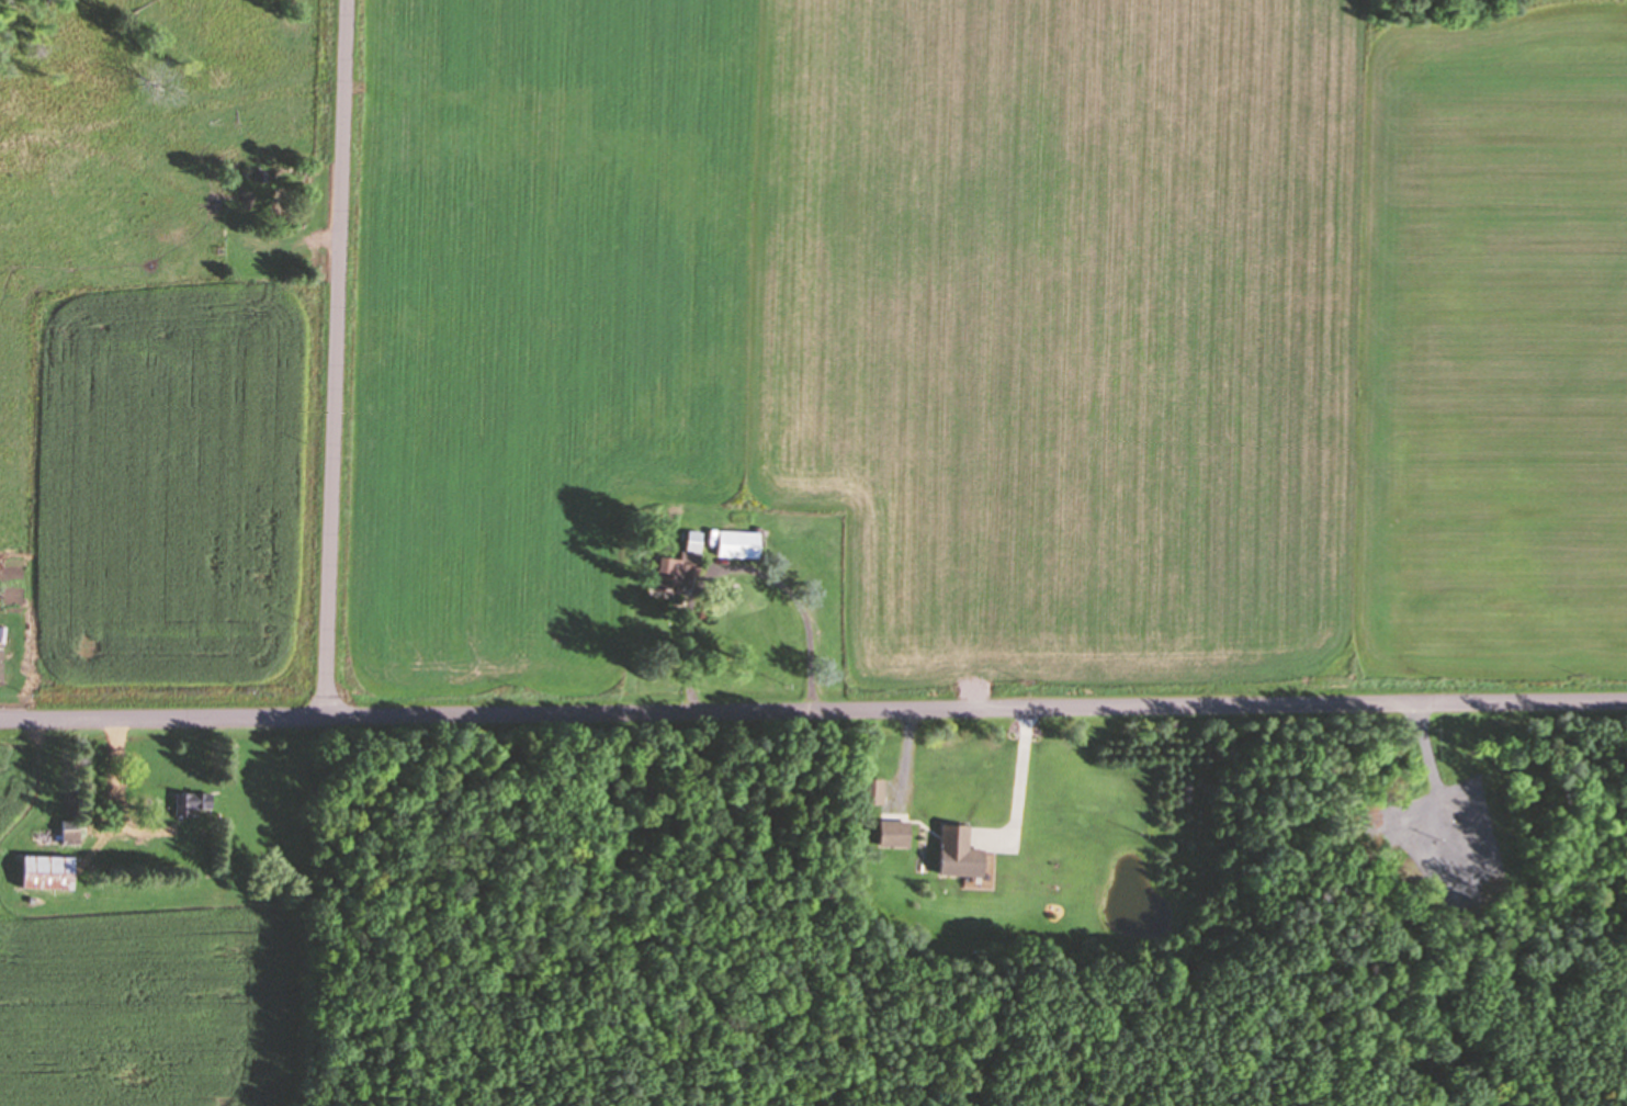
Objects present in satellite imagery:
road: (346, 358)
building: (701, 542)
building: (745, 545)
building: (677, 578)
building: (0, 629)
road: (813, 709)
building: (202, 800)
building: (78, 832)
building: (903, 832)
building: (969, 853)
building: (56, 872)

